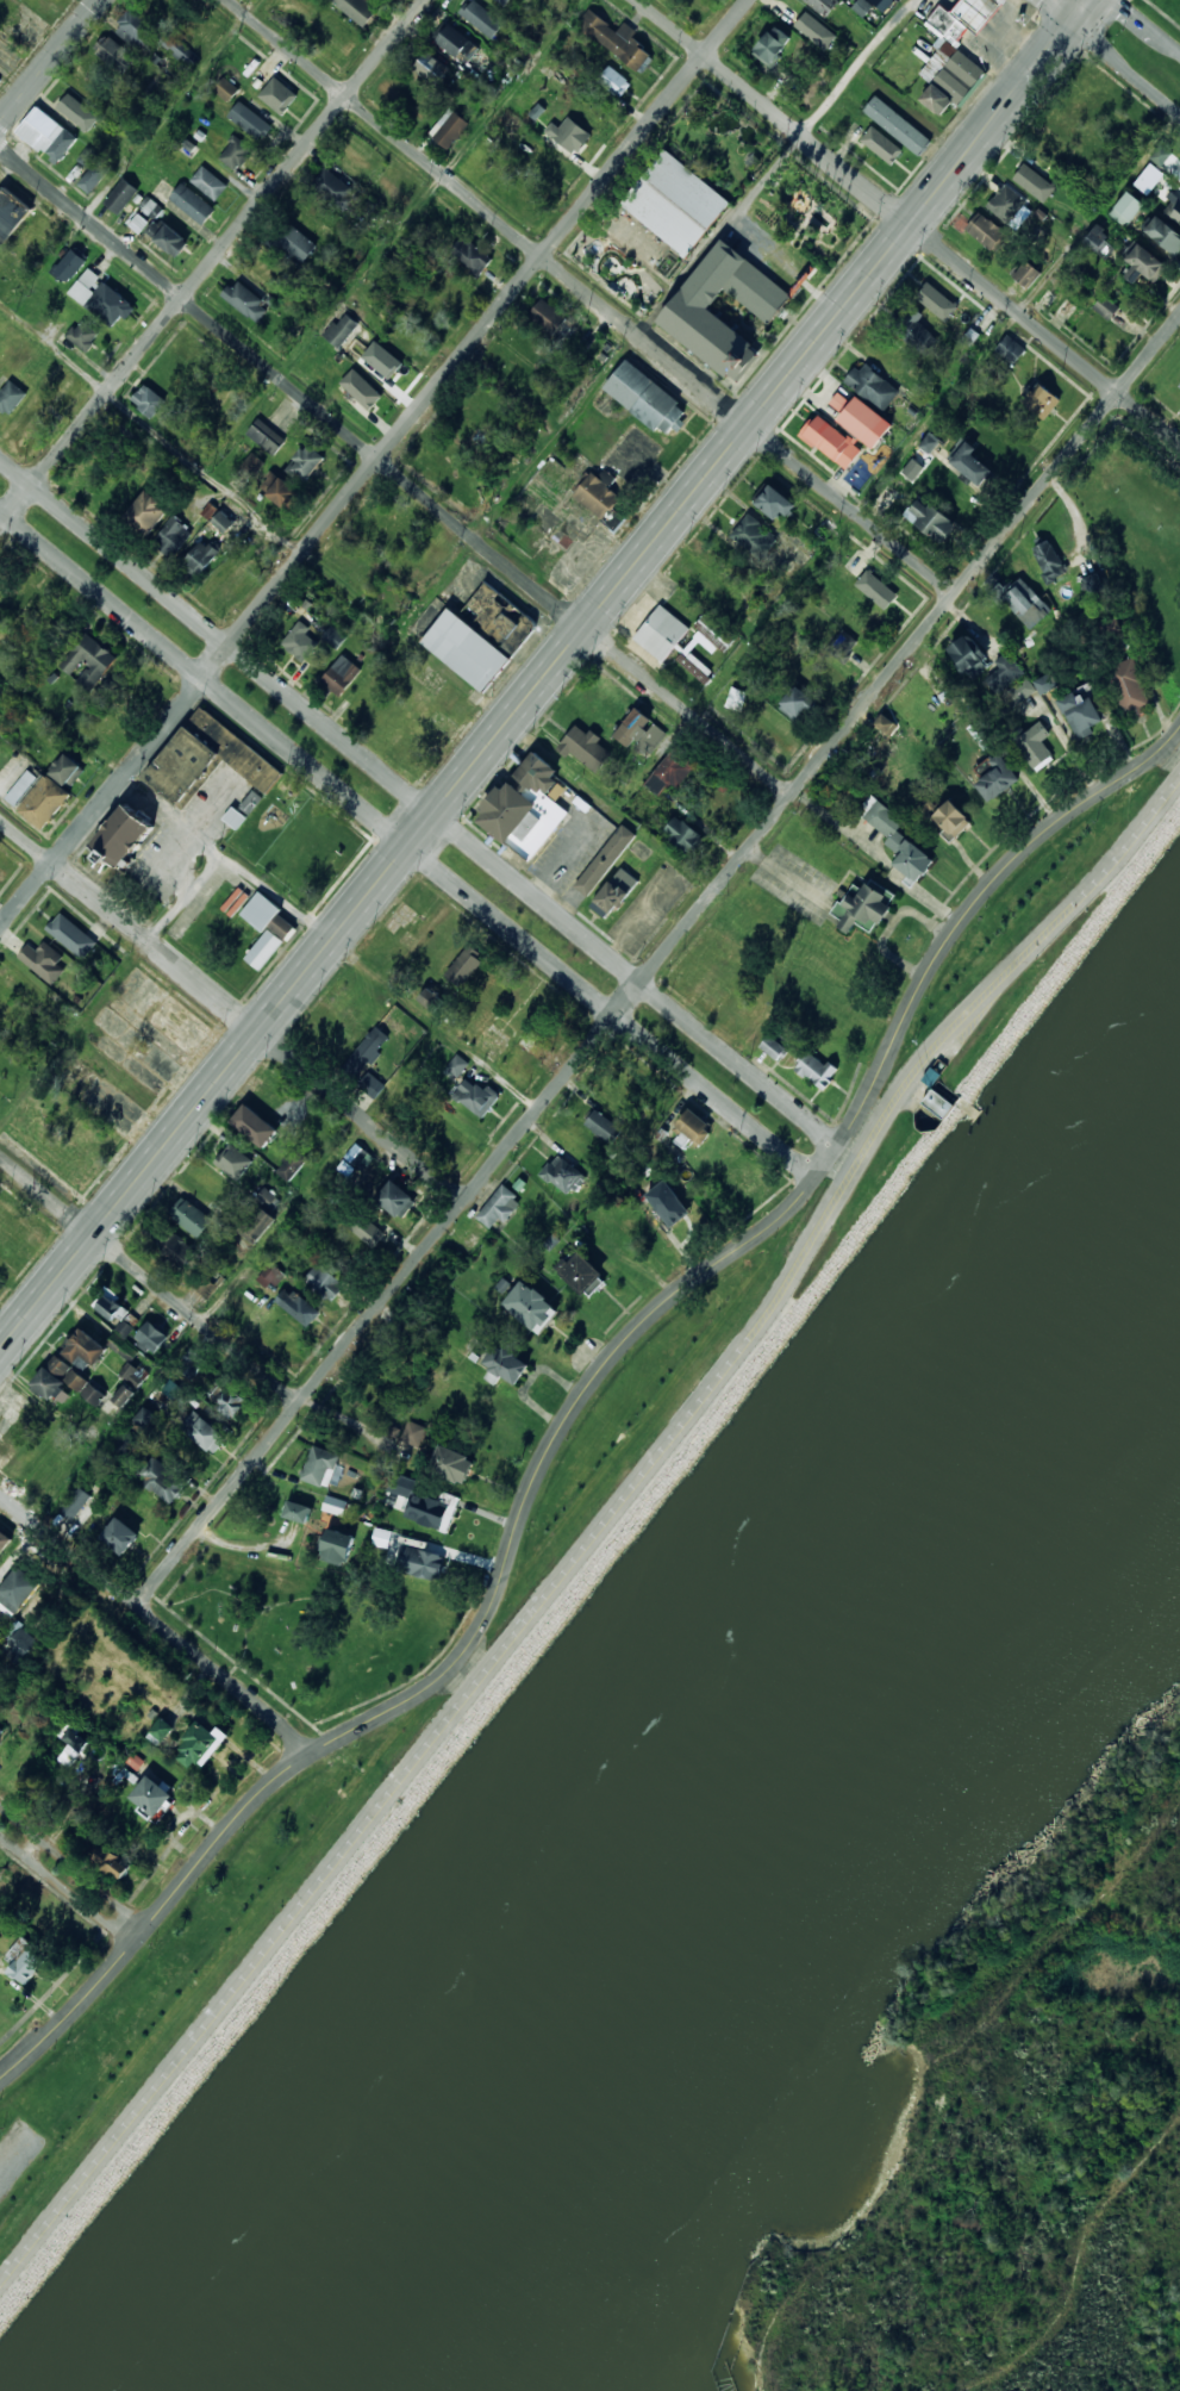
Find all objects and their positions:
building: (850, 0)
building: (853, 0)
building: (505, 1)
building: (695, 1)
road: (1124, 2)
building: (881, 4)
building: (825, 6)
building: (861, 6)
building: (56, 7)
building: (360, 10)
park: (1167, 10)
road: (1055, 12)
building: (966, 17)
building: (482, 18)
building: (805, 18)
traffic signals: (1070, 24)
road: (1147, 26)
building: (336, 32)
building: (151, 36)
building: (617, 39)
building: (454, 42)
building: (774, 46)
building: (115, 55)
road: (50, 63)
building: (431, 69)
road: (1125, 69)
building: (949, 80)
building: (614, 81)
building: (227, 89)
building: (277, 92)
building: (76, 113)
building: (250, 120)
building: (898, 124)
building: (449, 127)
building: (39, 129)
building: (568, 133)
building: (62, 147)
building: (881, 147)
building: (236, 152)
building: (481, 152)
building: (1160, 154)
road: (136, 155)
building: (93, 169)
building: (1035, 175)
building: (210, 182)
building: (335, 188)
road: (435, 188)
building: (518, 191)
building: (121, 195)
building: (363, 201)
building: (676, 201)
building: (193, 204)
building: (1006, 204)
building: (1129, 207)
building: (1174, 208)
building: (12, 212)
road: (910, 219)
building: (161, 228)
building: (987, 231)
building: (1166, 232)
building: (39, 237)
building: (292, 241)
building: (1101, 243)
building: (472, 255)
road: (212, 261)
building: (1145, 263)
building: (666, 264)
building: (69, 266)
building: (1026, 274)
building: (451, 284)
building: (86, 286)
road: (591, 295)
building: (246, 299)
building: (938, 304)
building: (111, 306)
building: (1106, 307)
building: (693, 313)
road: (657, 315)
building: (548, 317)
building: (342, 329)
building: (986, 329)
building: (917, 332)
building: (83, 335)
building: (1011, 349)
building: (23, 357)
building: (379, 365)
building: (873, 385)
building: (1179, 386)
building: (361, 388)
building: (11, 397)
building: (647, 398)
building: (1042, 398)
building: (148, 400)
building: (861, 416)
building: (267, 436)
building: (831, 441)
building: (929, 442)
building: (635, 455)
building: (307, 462)
road: (899, 462)
road: (374, 463)
building: (974, 463)
building: (254, 465)
road: (397, 468)
building: (286, 492)
building: (599, 496)
building: (774, 502)
building: (146, 510)
building: (207, 510)
building: (225, 513)
building: (930, 519)
building: (753, 534)
building: (171, 536)
building: (199, 558)
building: (1049, 560)
building: (1091, 583)
building: (875, 589)
road: (357, 596)
building: (1023, 600)
building: (514, 625)
building: (661, 633)
building: (333, 635)
building: (299, 641)
building: (842, 645)
building: (464, 649)
building: (714, 649)
building: (968, 655)
building: (88, 660)
building: (1005, 671)
building: (341, 674)
road: (545, 677)
building: (1044, 683)
building: (1129, 686)
building: (1020, 690)
building: (733, 693)
building: (795, 702)
building: (1080, 714)
road: (65, 717)
building: (641, 733)
building: (1035, 745)
building: (583, 747)
building: (207, 759)
building: (65, 768)
building: (21, 787)
building: (44, 801)
building: (250, 802)
road: (420, 802)
building: (525, 807)
building: (233, 817)
building: (950, 818)
building: (682, 833)
building: (120, 836)
building: (895, 839)
road: (407, 845)
building: (605, 860)
road: (242, 871)
building: (613, 892)
building: (863, 905)
building: (266, 928)
building: (70, 935)
building: (42, 960)
road: (658, 961)
building: (463, 967)
road: (232, 1010)
building: (773, 1046)
building: (364, 1052)
building: (457, 1064)
building: (817, 1070)
building: (931, 1076)
building: (370, 1084)
building: (476, 1096)
building: (938, 1102)
building: (252, 1125)
building: (603, 1126)
building: (693, 1126)
building: (232, 1160)
building: (292, 1165)
building: (563, 1171)
building: (394, 1198)
building: (668, 1202)
building: (499, 1207)
building: (189, 1215)
building: (261, 1215)
building: (362, 1226)
building: (580, 1272)
building: (270, 1275)
road: (241, 1277)
road: (150, 1279)
building: (324, 1281)
building: (296, 1306)
building: (530, 1306)
building: (108, 1307)
building: (124, 1328)
building: (150, 1338)
building: (85, 1347)
building: (191, 1363)
building: (505, 1365)
building: (132, 1372)
building: (58, 1378)
building: (93, 1393)
building: (123, 1395)
road: (581, 1401)
building: (232, 1402)
building: (412, 1432)
building: (206, 1433)
building: (451, 1463)
building: (320, 1465)
building: (163, 1480)
building: (74, 1502)
building: (333, 1505)
building: (429, 1505)
building: (296, 1511)
building: (119, 1534)
road: (594, 1537)
building: (4, 1540)
building: (335, 1545)
building: (408, 1553)
building: (18, 1589)
road: (157, 1623)
building: (160, 1731)
building: (0, 1737)
building: (200, 1744)
building: (70, 1746)
building: (135, 1761)
building: (151, 1797)
building: (112, 1862)
road: (74, 1866)
road: (68, 1887)
building: (26, 1963)

